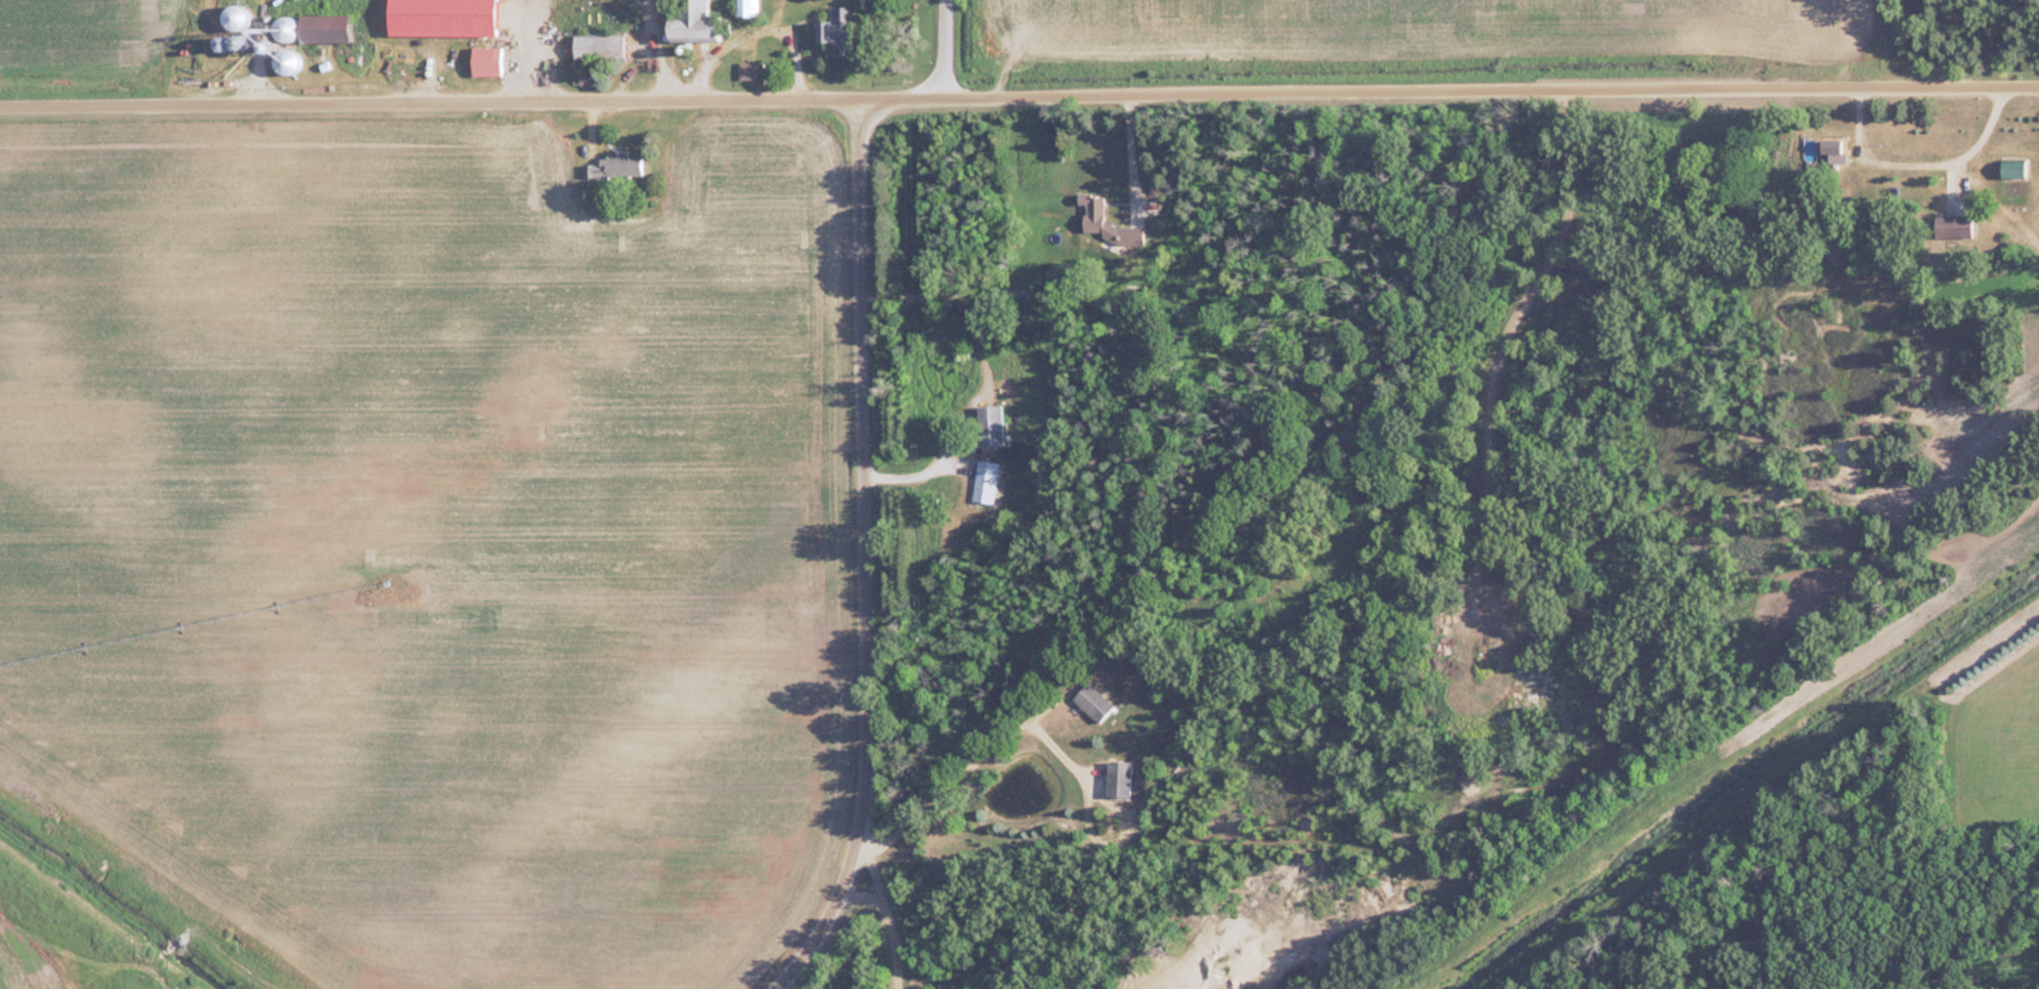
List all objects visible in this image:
building: (747, 6)
building: (233, 14)
building: (694, 23)
building: (324, 27)
building: (836, 27)
building: (284, 28)
building: (234, 43)
road: (1903, 45)
building: (597, 47)
road: (951, 50)
building: (485, 60)
building: (285, 61)
building: (746, 69)
road: (1019, 100)
building: (1832, 151)
road: (1126, 157)
road: (1918, 163)
road: (1571, 164)
building: (613, 167)
building: (2012, 168)
building: (1093, 213)
building: (1952, 226)
building: (989, 425)
road: (915, 463)
building: (985, 481)
road: (865, 558)
building: (1093, 702)
road: (968, 765)
building: (1118, 778)
road: (897, 919)

